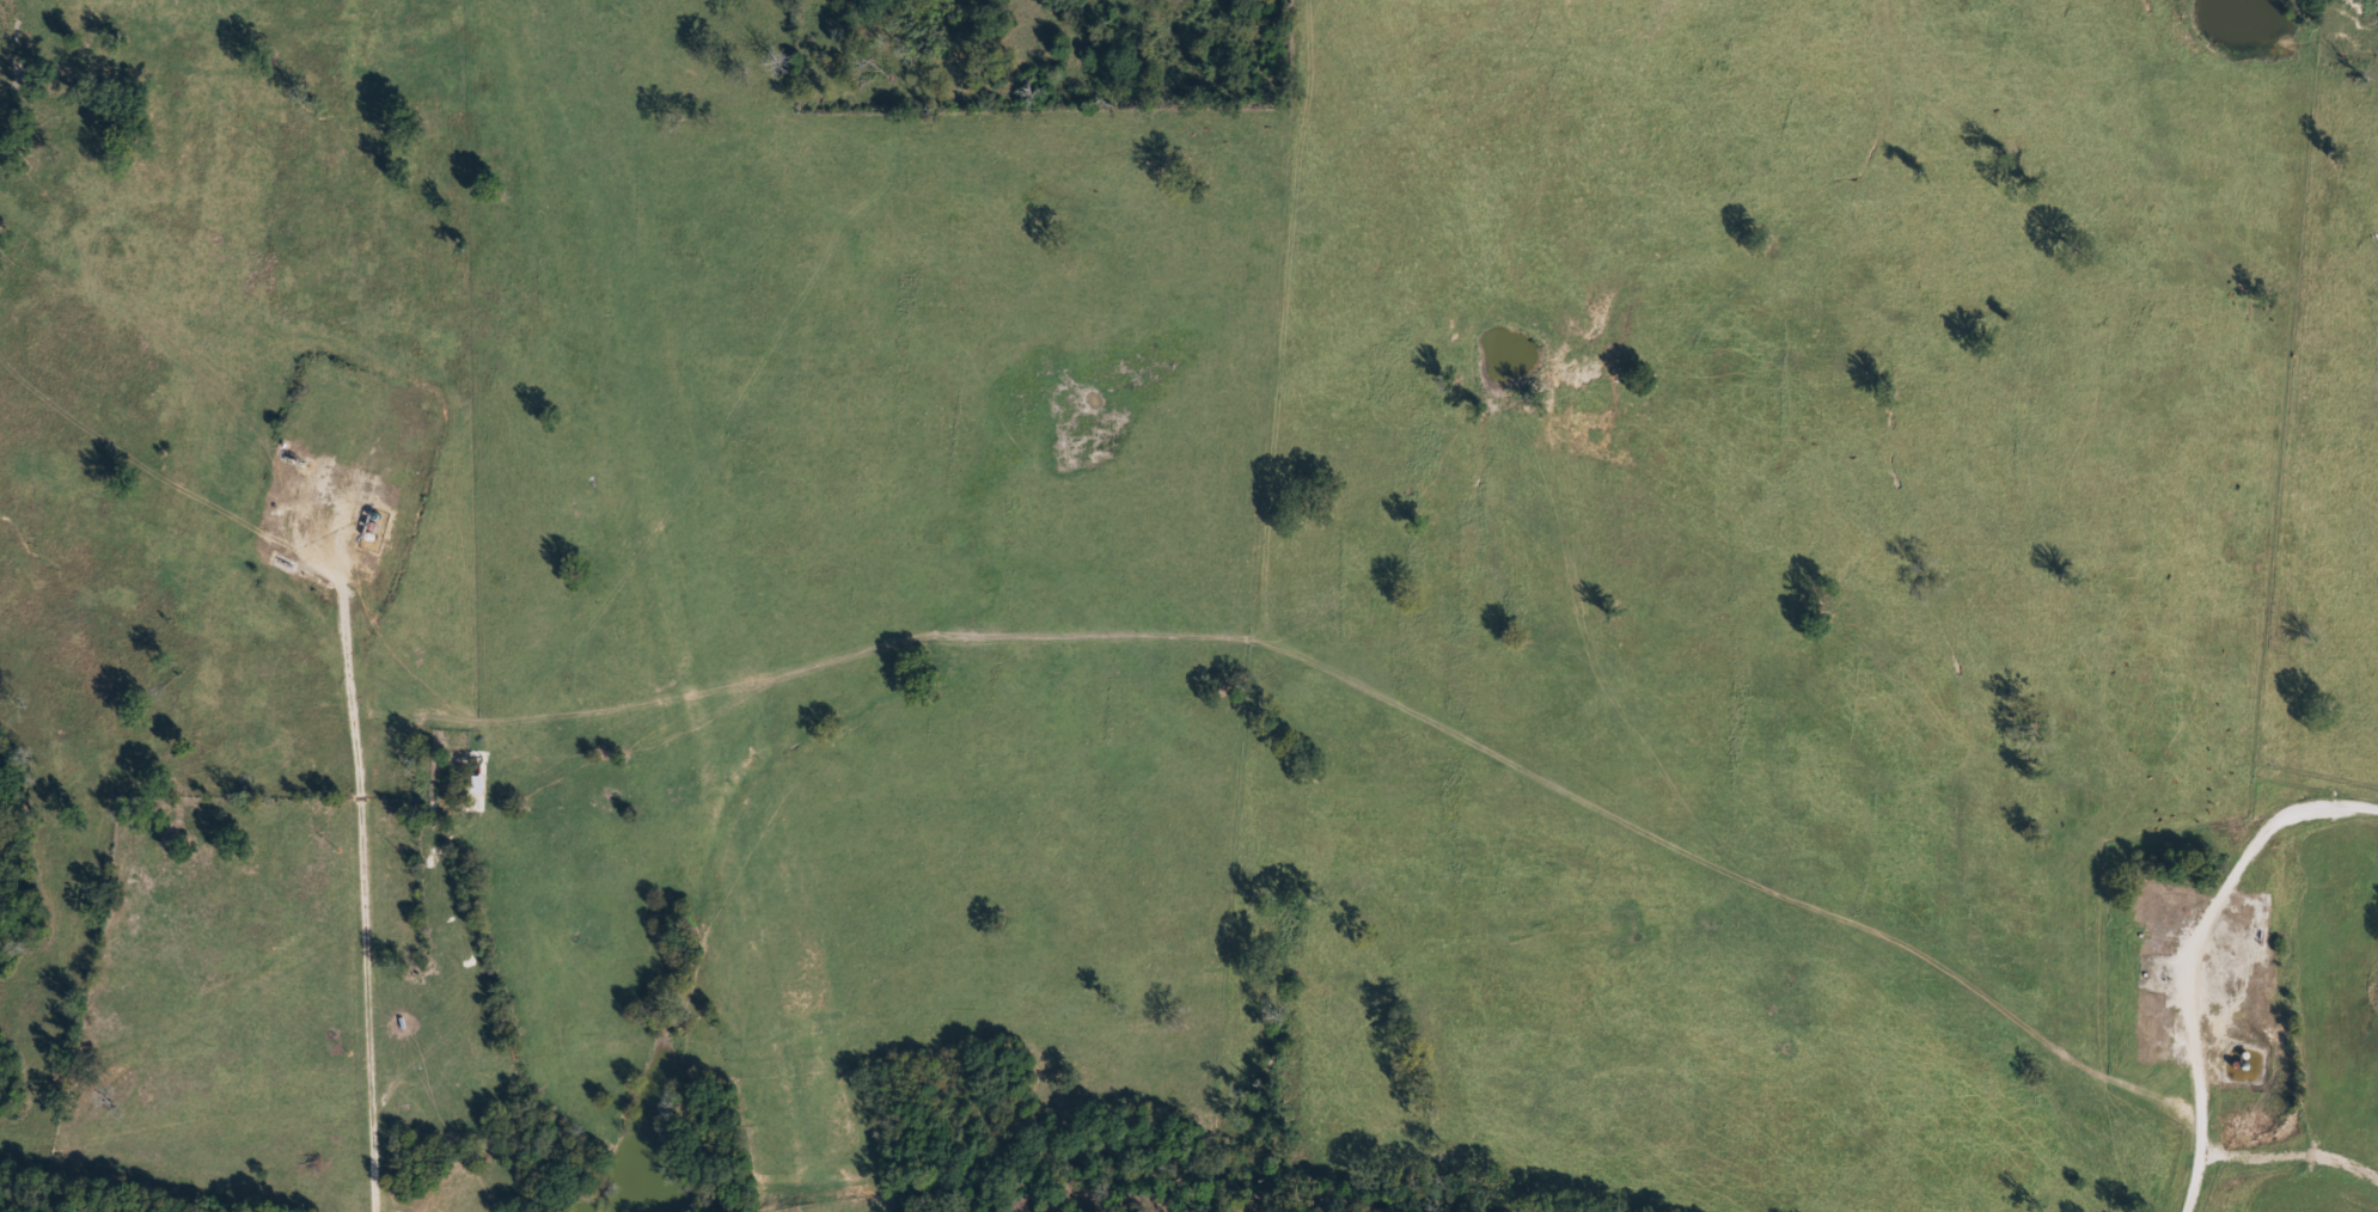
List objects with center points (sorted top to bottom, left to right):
road: (2288, 1141)

